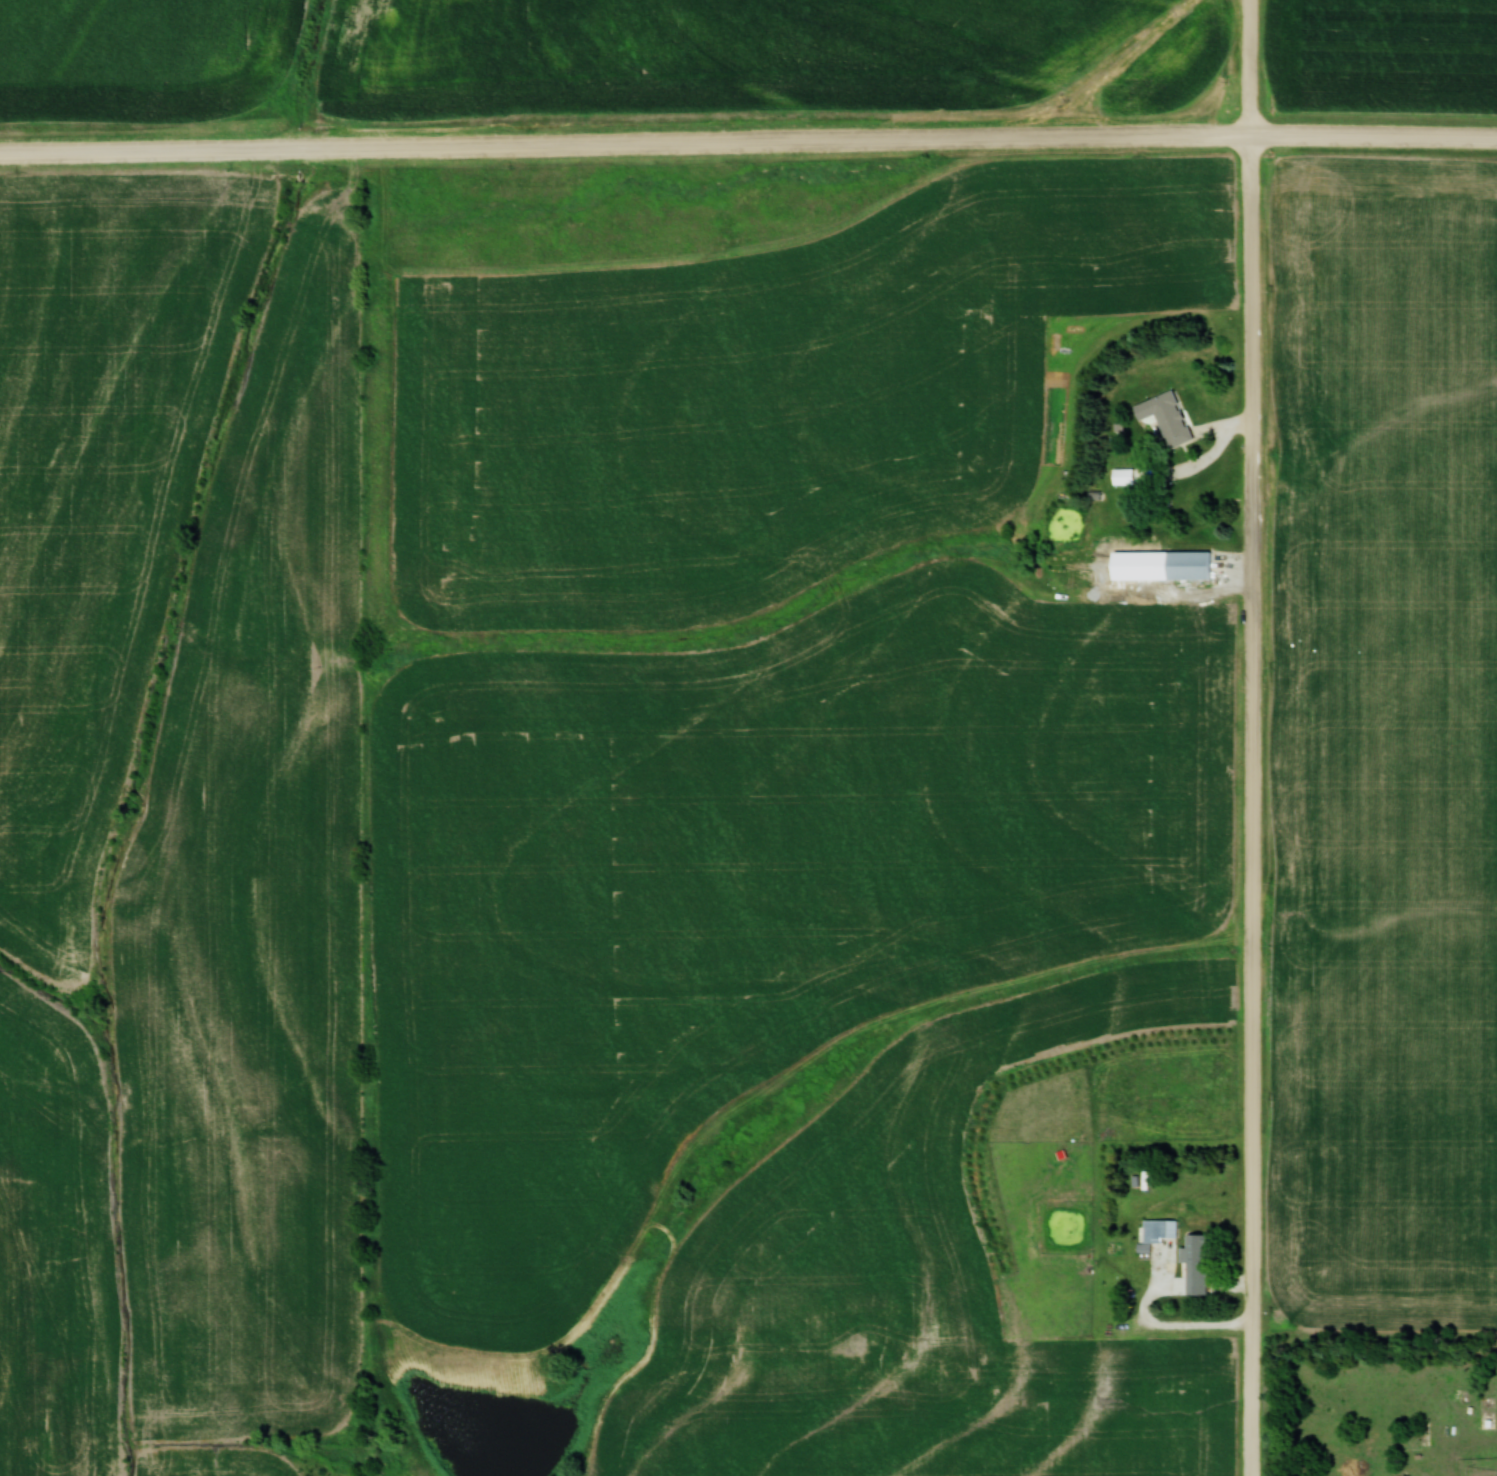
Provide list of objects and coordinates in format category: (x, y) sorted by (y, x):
road: (748, 143)
building: (1167, 419)
building: (1126, 476)
building: (1189, 564)
road: (1257, 737)
building: (1163, 1229)
building: (1203, 1245)

